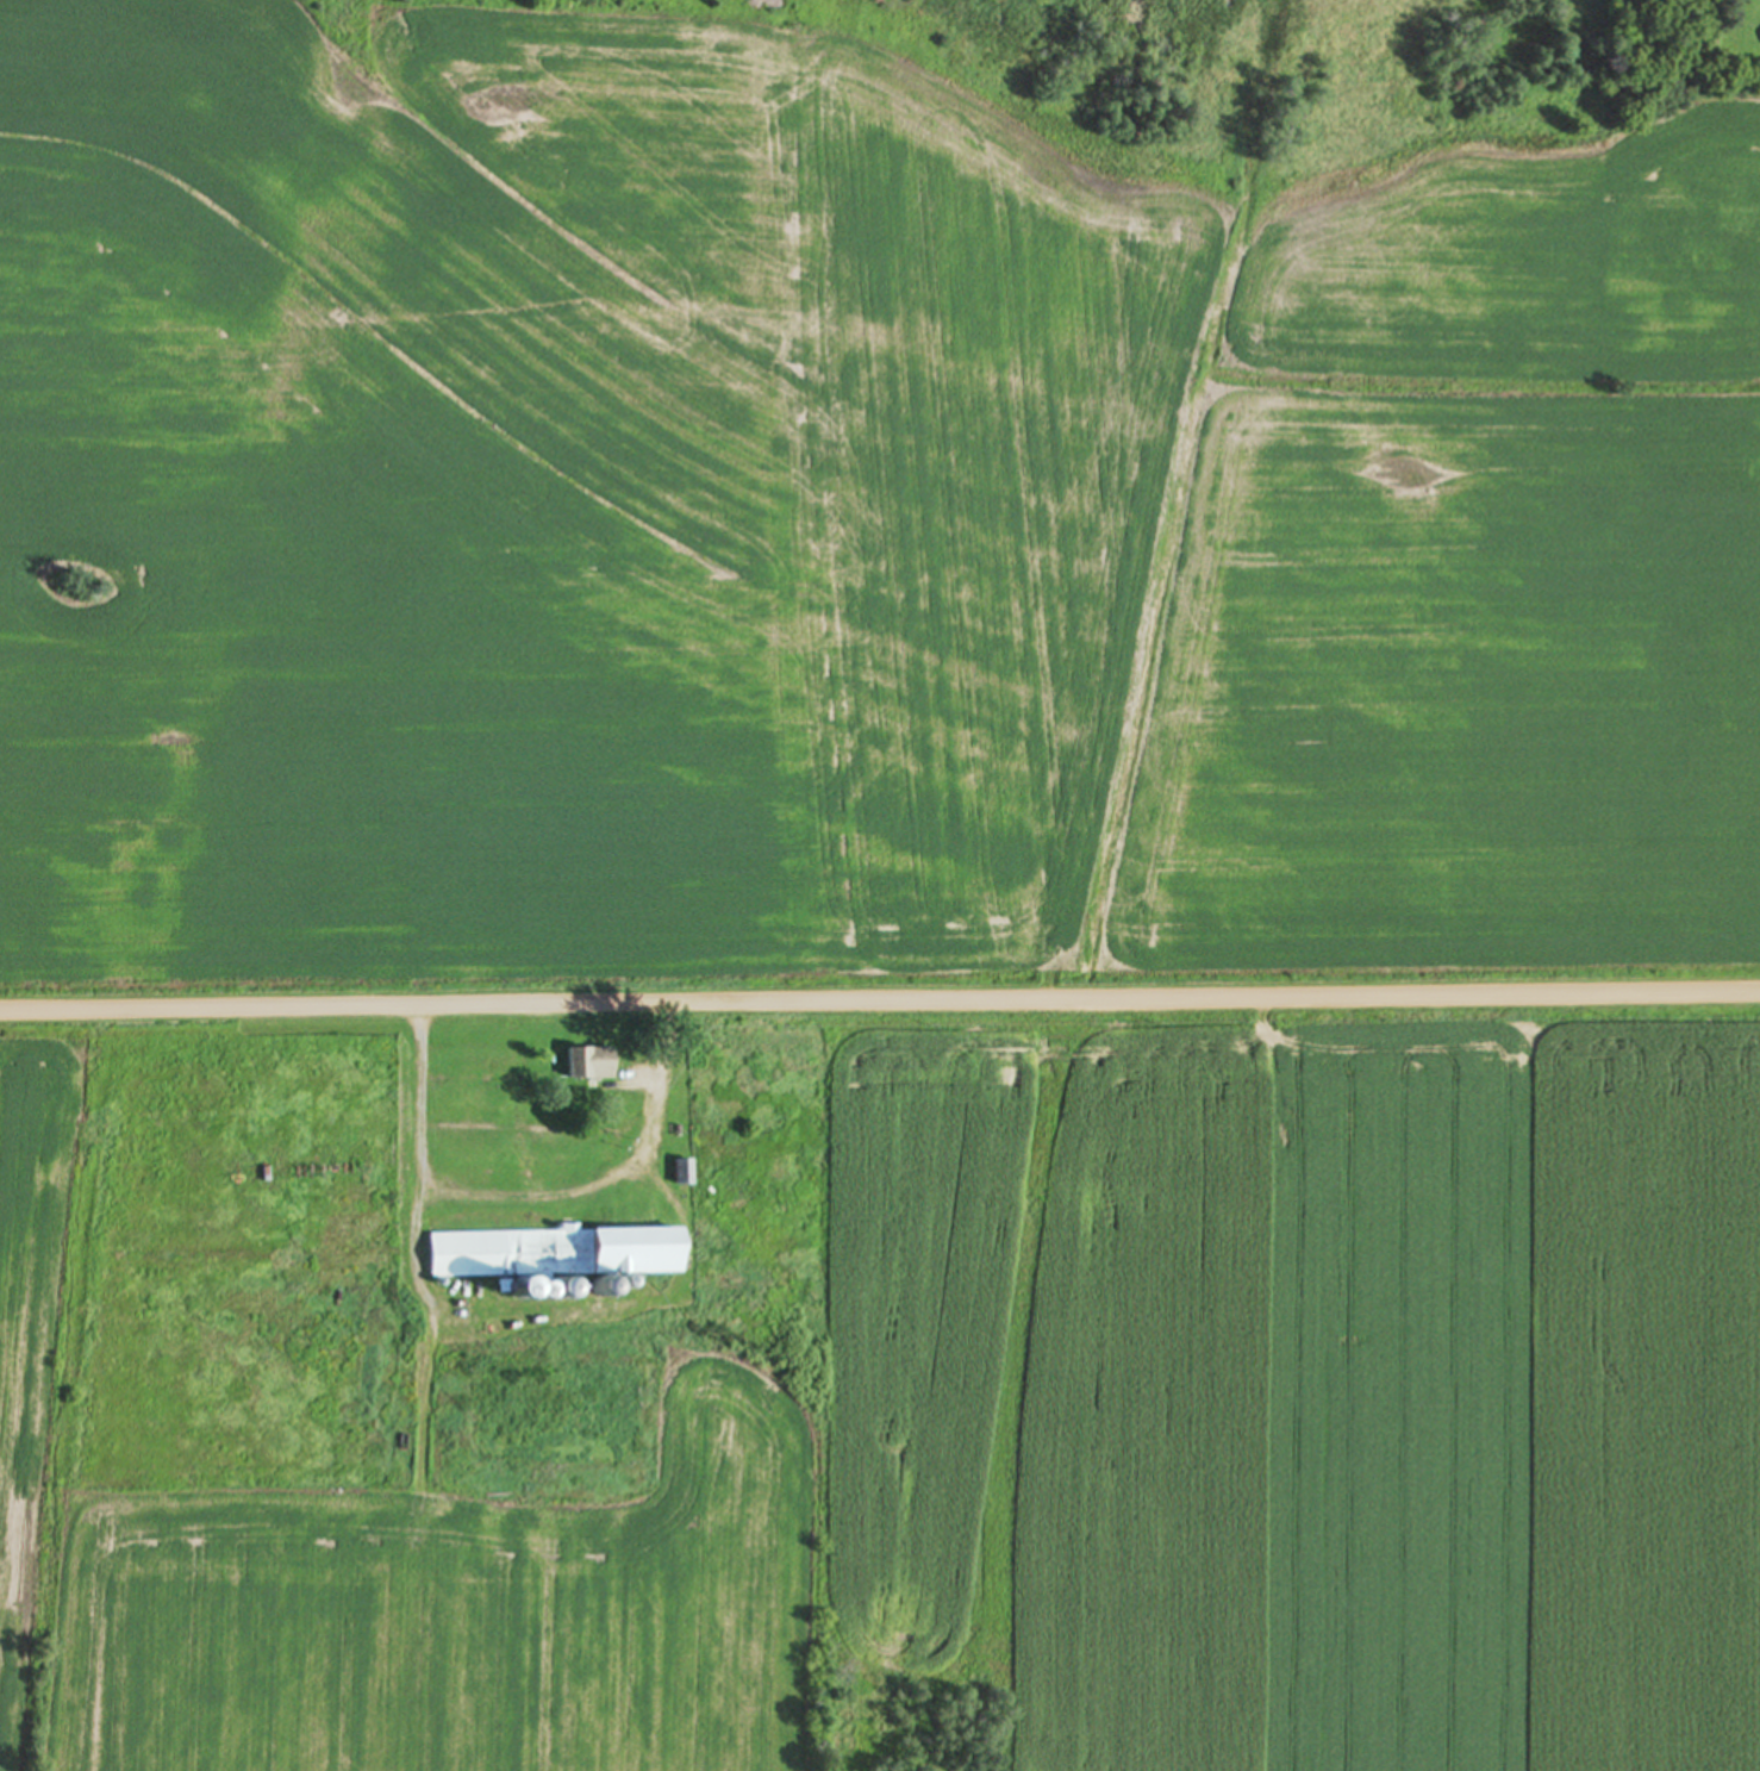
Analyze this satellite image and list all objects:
road: (880, 1008)
building: (592, 1065)
building: (682, 1173)
building: (553, 1253)

